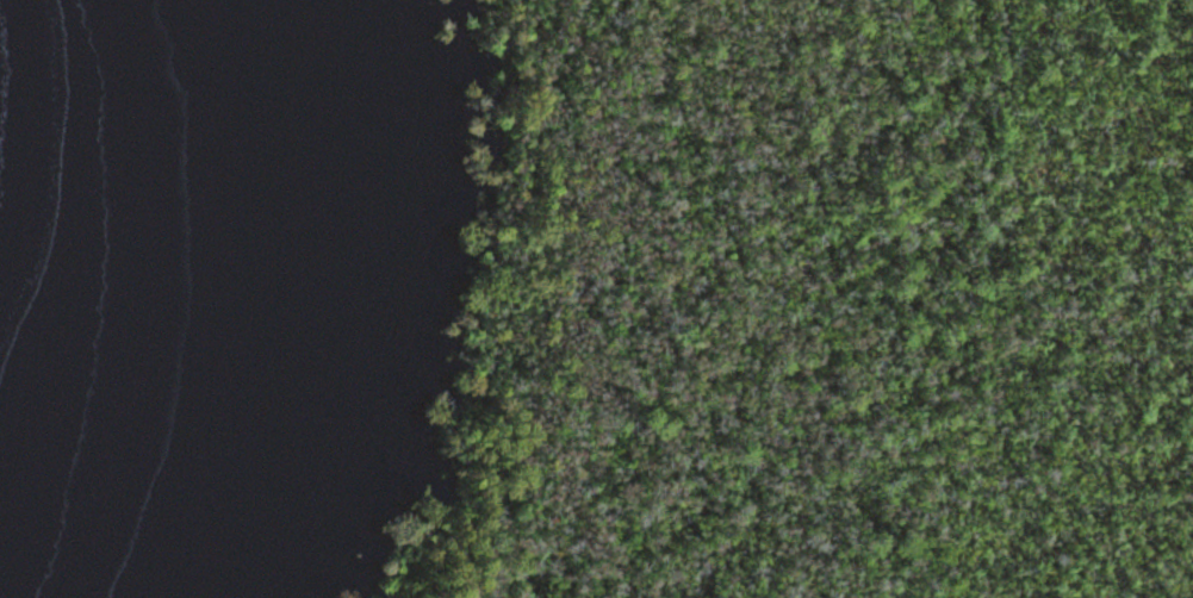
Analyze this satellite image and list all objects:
river: (20, 185)

